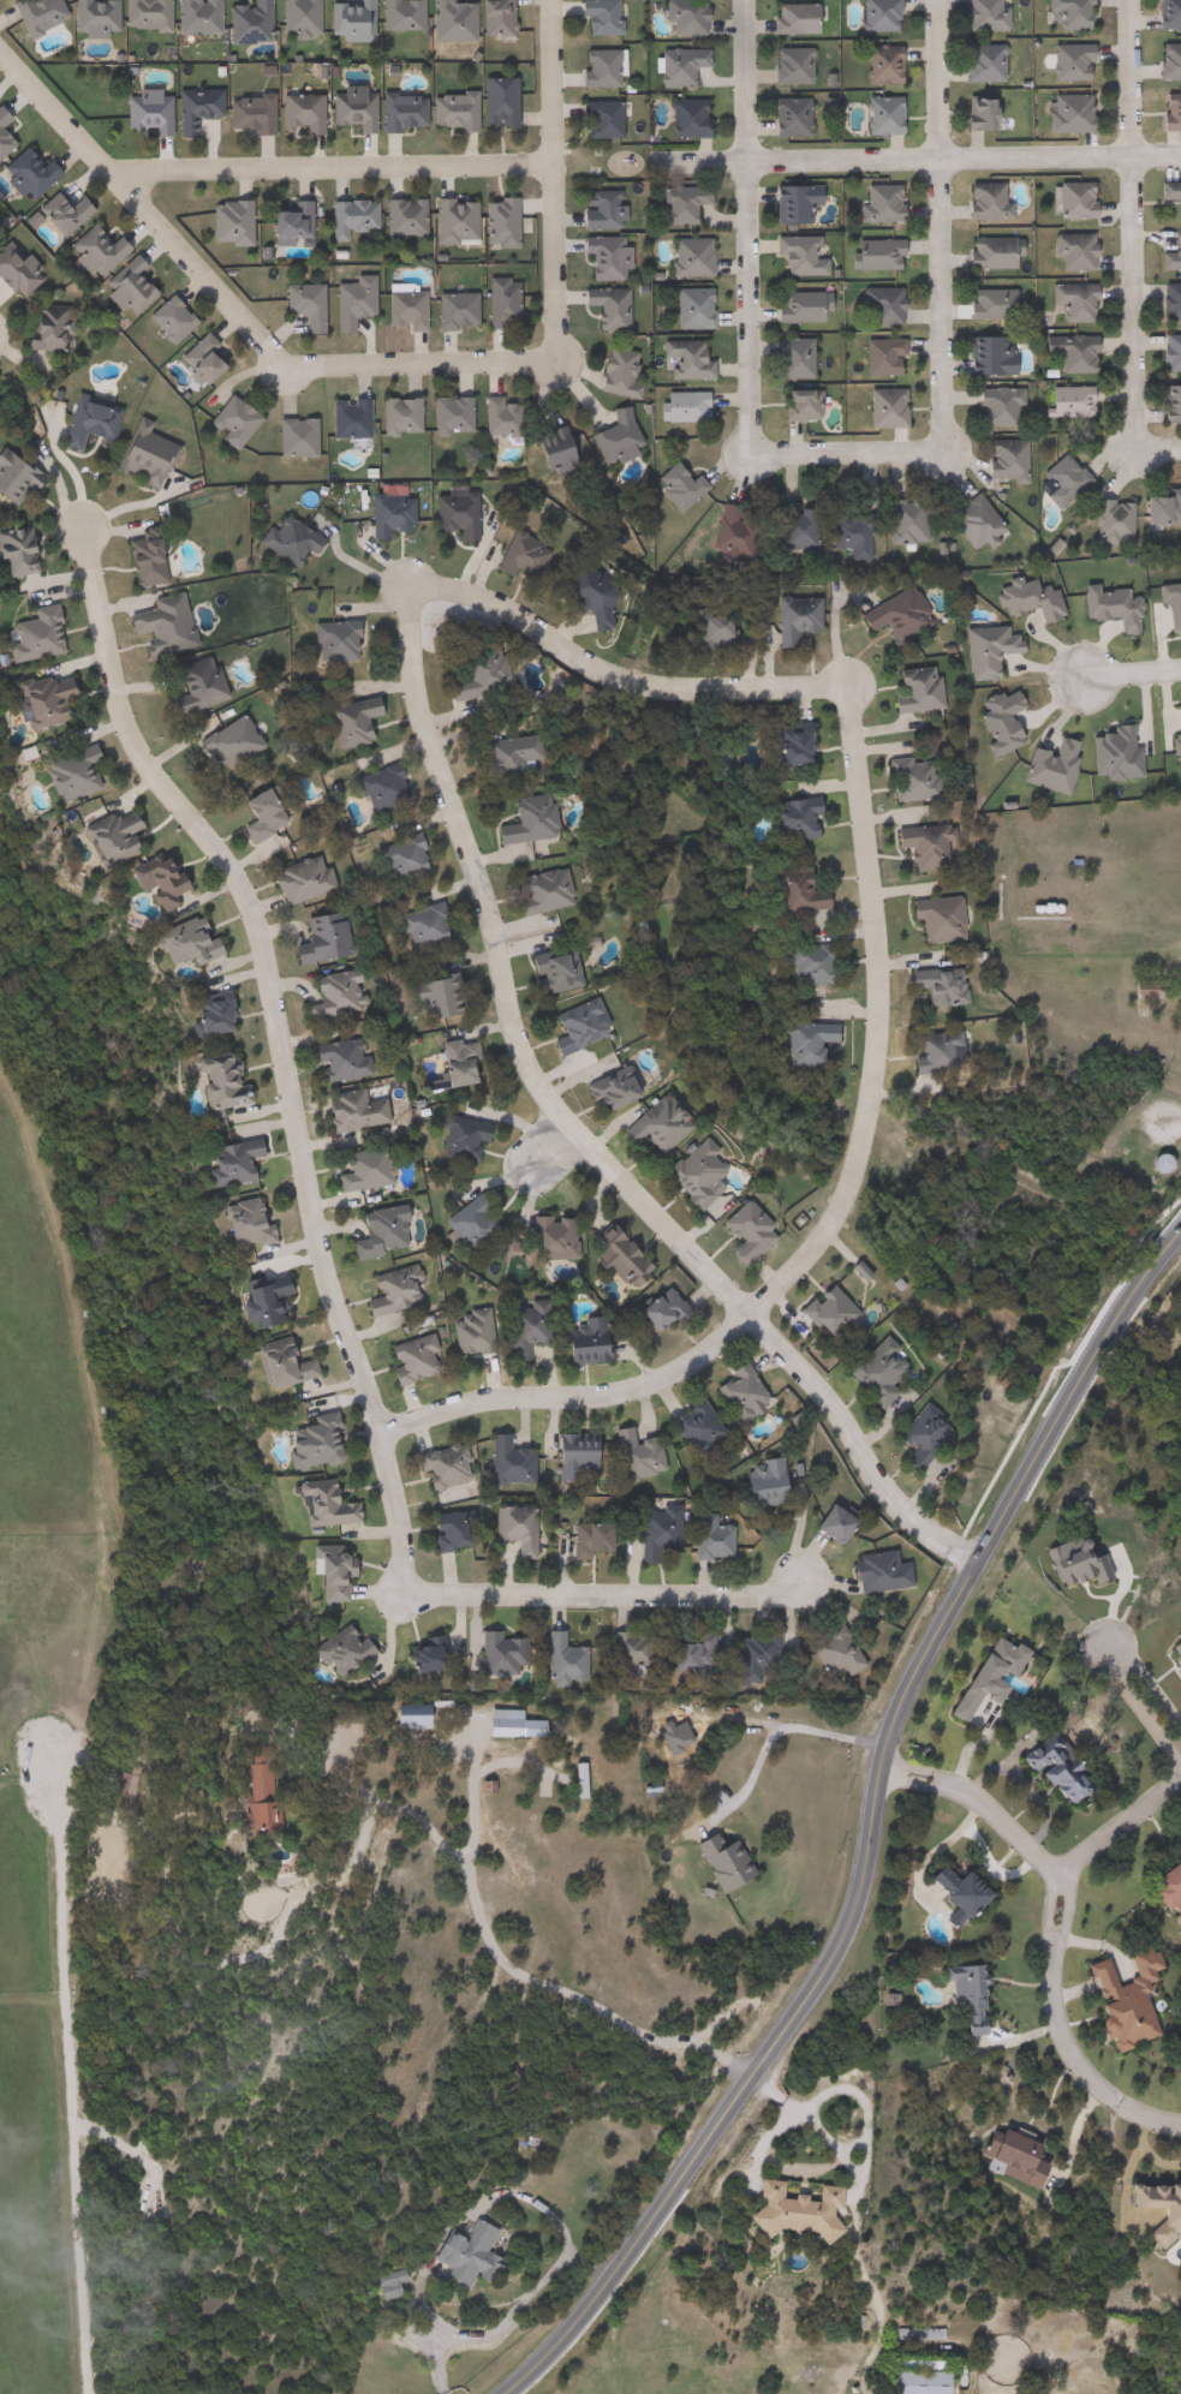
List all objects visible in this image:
building: (1068, 12)
building: (398, 13)
building: (1167, 13)
building: (34, 14)
building: (143, 14)
building: (876, 14)
building: (982, 14)
building: (193, 16)
building: (296, 16)
building: (597, 16)
building: (682, 16)
building: (93, 17)
building: (491, 17)
building: (789, 17)
building: (347, 20)
building: (447, 20)
building: (246, 22)
building: (1067, 60)
building: (1168, 60)
building: (878, 62)
building: (980, 62)
building: (788, 64)
building: (678, 65)
building: (596, 67)
road: (1122, 71)
road: (935, 78)
road: (741, 79)
building: (495, 101)
building: (351, 107)
building: (192, 108)
building: (449, 109)
building: (144, 111)
building: (400, 111)
building: (1169, 111)
building: (1067, 112)
building: (246, 113)
building: (298, 113)
building: (973, 113)
building: (878, 114)
building: (787, 115)
building: (1, 118)
building: (684, 118)
building: (596, 119)
building: (2, 143)
road: (961, 154)
road: (699, 160)
road: (328, 166)
building: (23, 174)
building: (1169, 192)
building: (983, 199)
building: (1072, 201)
building: (676, 202)
building: (791, 202)
building: (881, 202)
building: (598, 208)
building: (59, 211)
building: (347, 215)
building: (402, 216)
building: (451, 219)
building: (227, 222)
building: (287, 222)
building: (496, 222)
building: (93, 250)
building: (1069, 250)
building: (873, 252)
building: (988, 252)
building: (1170, 253)
building: (797, 255)
building: (602, 256)
building: (688, 256)
building: (121, 286)
building: (1070, 300)
building: (1170, 300)
building: (348, 302)
building: (499, 302)
building: (986, 303)
building: (300, 304)
building: (879, 304)
building: (799, 305)
building: (604, 306)
building: (691, 306)
building: (401, 309)
building: (452, 309)
building: (167, 318)
road: (1126, 322)
building: (42, 329)
building: (1067, 351)
building: (1170, 352)
building: (986, 354)
building: (881, 356)
building: (197, 357)
building: (791, 357)
building: (682, 359)
road: (386, 360)
building: (613, 372)
building: (1064, 400)
building: (1169, 404)
building: (797, 405)
building: (679, 406)
building: (994, 406)
building: (882, 407)
building: (447, 414)
building: (394, 416)
building: (496, 417)
building: (345, 418)
building: (85, 420)
building: (229, 420)
building: (292, 436)
building: (612, 438)
building: (547, 449)
road: (841, 452)
building: (139, 453)
building: (1002, 458)
road: (56, 470)
building: (12, 479)
building: (1060, 479)
building: (673, 486)
building: (1158, 508)
building: (387, 514)
building: (451, 514)
building: (1111, 520)
building: (971, 521)
building: (905, 524)
building: (793, 530)
building: (729, 531)
building: (846, 533)
building: (285, 538)
building: (12, 551)
building: (517, 556)
building: (138, 557)
road: (353, 562)
building: (581, 593)
road: (402, 598)
building: (893, 613)
building: (791, 617)
building: (157, 625)
building: (708, 629)
building: (25, 635)
building: (330, 640)
road: (1129, 669)
building: (473, 675)
building: (191, 685)
building: (912, 689)
building: (35, 699)
building: (347, 721)
building: (788, 744)
building: (226, 745)
building: (501, 756)
building: (62, 774)
building: (907, 778)
building: (376, 787)
building: (254, 814)
building: (791, 819)
building: (520, 820)
building: (106, 836)
building: (919, 844)
building: (398, 858)
building: (154, 879)
building: (297, 879)
building: (536, 890)
building: (792, 890)
building: (931, 917)
building: (419, 926)
building: (317, 938)
building: (179, 943)
road: (258, 960)
building: (804, 963)
road: (1179, 967)
building: (548, 969)
building: (934, 985)
building: (330, 996)
building: (433, 996)
building: (204, 1014)
building: (569, 1026)
building: (801, 1041)
building: (930, 1052)
building: (335, 1059)
building: (453, 1064)
building: (208, 1082)
building: (604, 1089)
building: (348, 1110)
building: (650, 1126)
building: (458, 1139)
road: (548, 1146)
building: (222, 1162)
building: (1155, 1163)
building: (362, 1170)
building: (688, 1174)
building: (238, 1223)
building: (467, 1223)
building: (376, 1232)
building: (740, 1232)
building: (548, 1237)
building: (612, 1256)
building: (389, 1290)
building: (256, 1300)
building: (655, 1309)
building: (821, 1312)
building: (523, 1327)
building: (467, 1332)
building: (580, 1342)
building: (410, 1360)
building: (274, 1365)
building: (870, 1368)
building: (734, 1392)
road: (568, 1396)
building: (691, 1425)
building: (917, 1434)
building: (305, 1441)
building: (633, 1452)
building: (571, 1455)
building: (505, 1459)
building: (440, 1465)
building: (758, 1482)
building: (312, 1503)
building: (827, 1523)
building: (449, 1528)
building: (512, 1528)
building: (654, 1529)
building: (583, 1536)
building: (705, 1536)
building: (875, 1570)
building: (318, 1572)
road: (521, 1590)
building: (332, 1648)
building: (627, 1648)
building: (831, 1652)
building: (420, 1653)
building: (495, 1653)
building: (688, 1653)
building: (753, 1653)
building: (559, 1659)
building: (982, 1673)
road: (1140, 1695)
building: (404, 1717)
building: (499, 1723)
road: (782, 1727)
building: (500, 1760)
building: (663, 1762)
building: (1052, 1768)
building: (111, 1787)
building: (241, 1793)
road: (467, 1795)
road: (865, 1827)
road: (1114, 1827)
building: (1165, 1889)
building: (956, 1892)
road: (475, 1912)
road: (1054, 1928)
building: (960, 2000)
road: (73, 2102)
building: (1009, 2156)
building: (1157, 2207)
building: (469, 2257)
building: (390, 2276)
road: (508, 2314)
building: (917, 2333)
building: (913, 2376)

